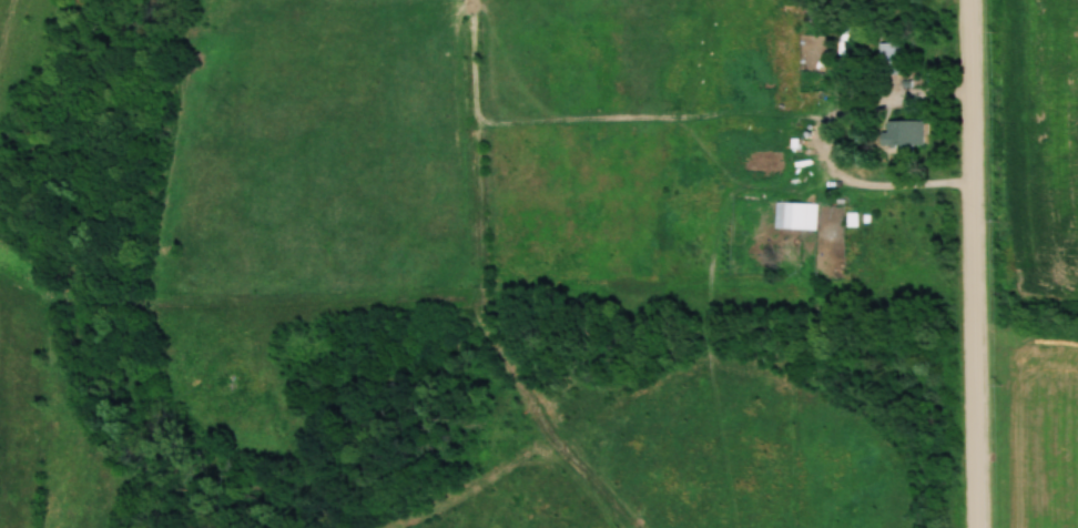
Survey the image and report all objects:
building: (888, 59)
building: (901, 134)
building: (793, 215)
road: (974, 264)

